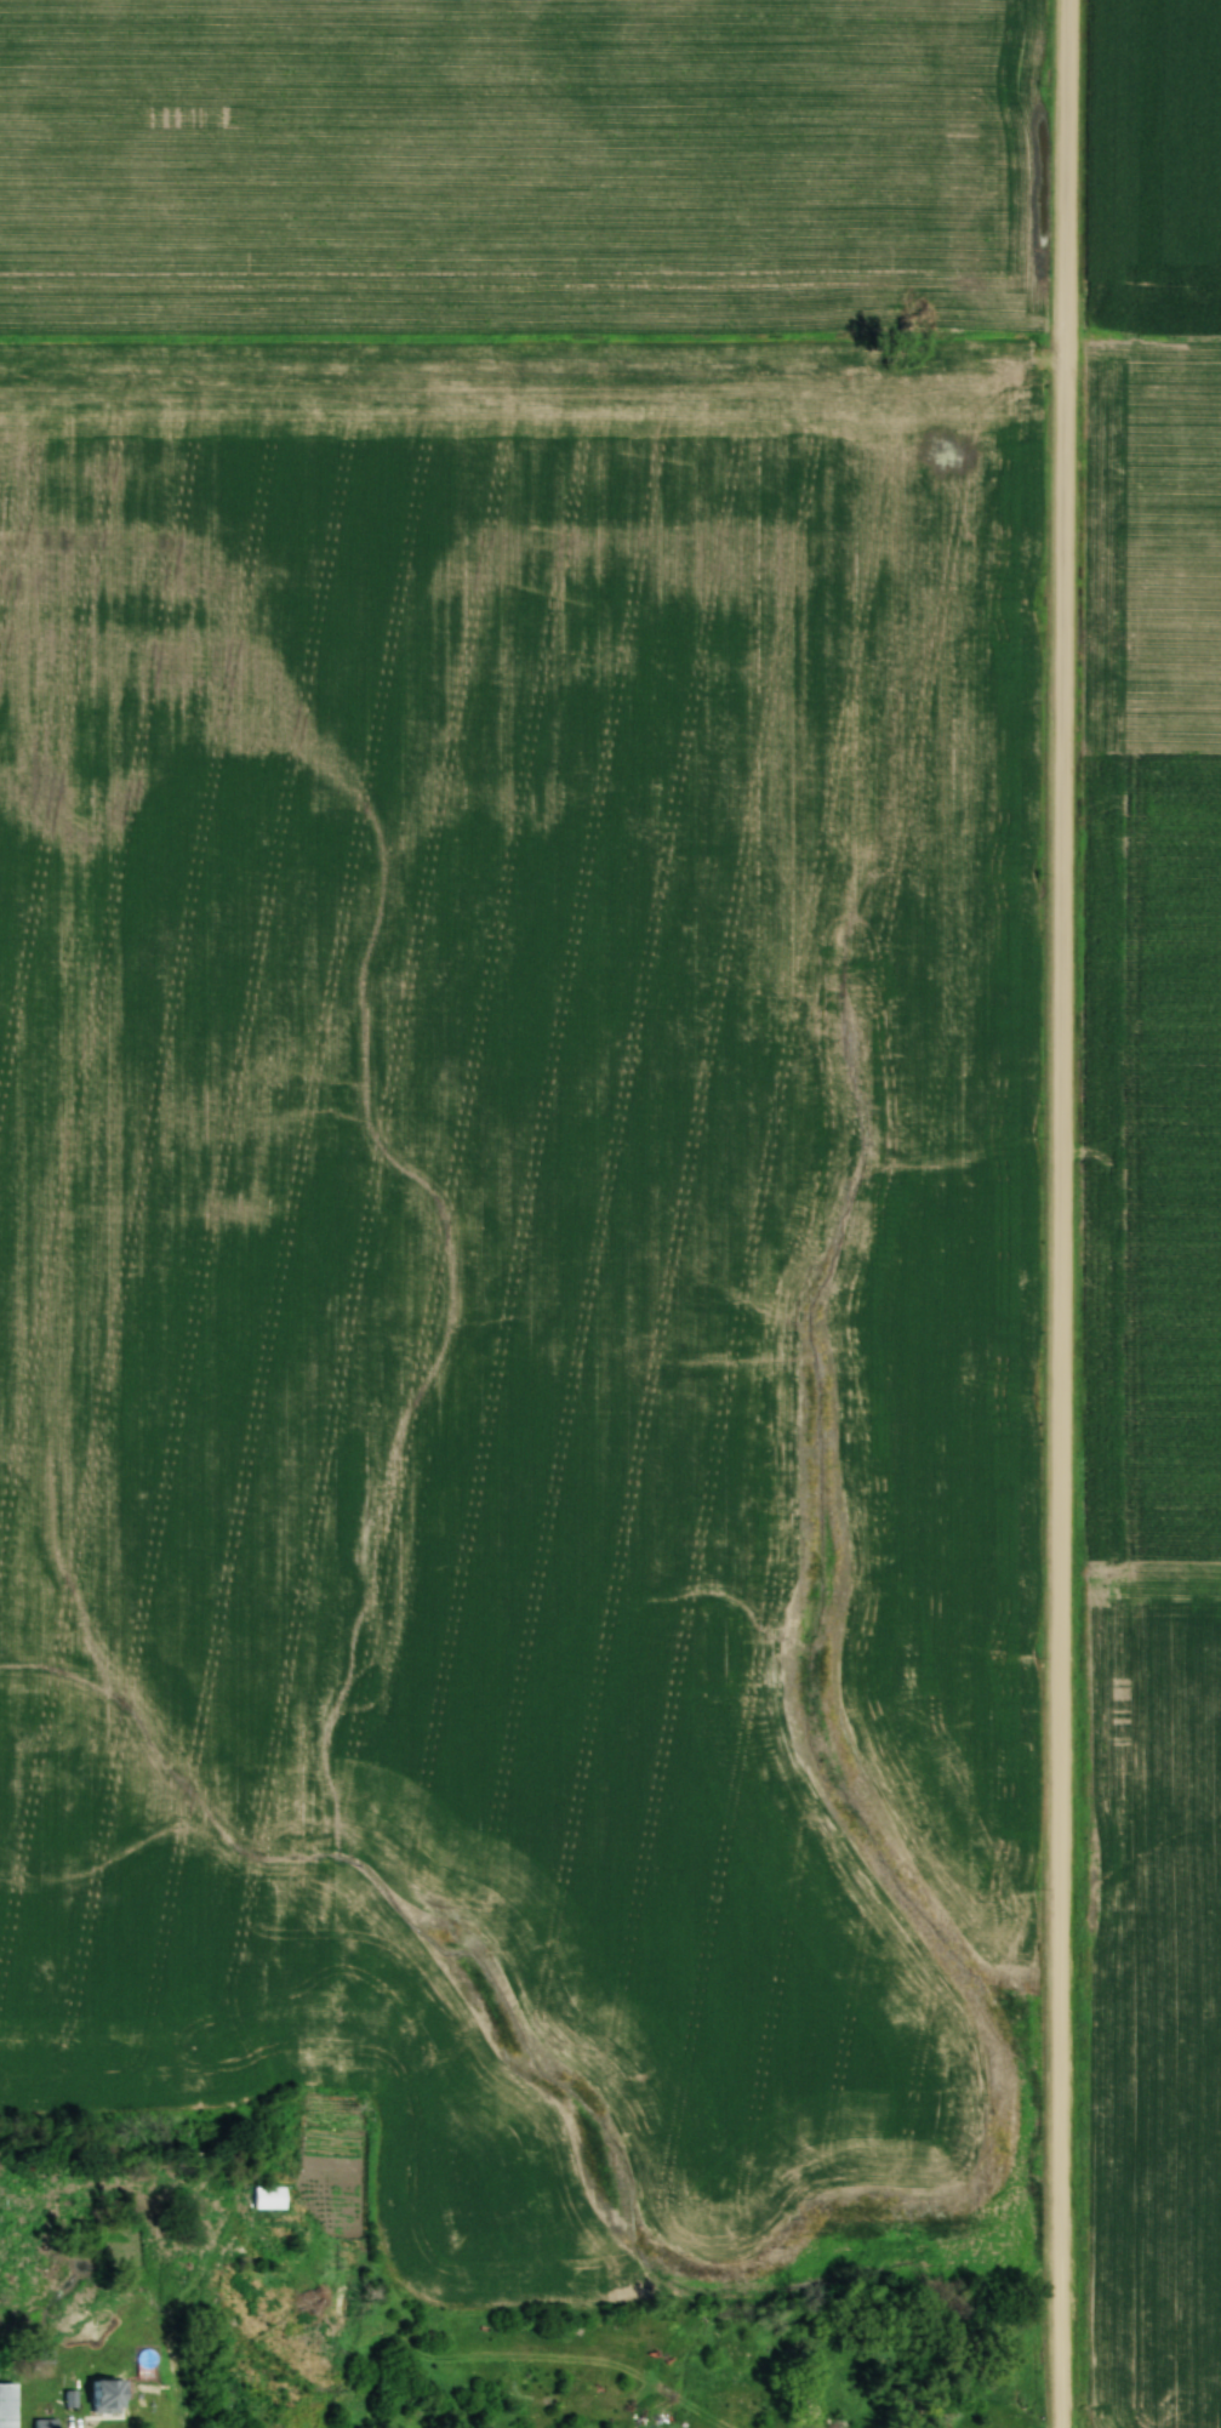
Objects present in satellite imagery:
road: (1059, 1213)
building: (273, 2196)
building: (113, 2396)
building: (11, 2405)
building: (49, 2423)

